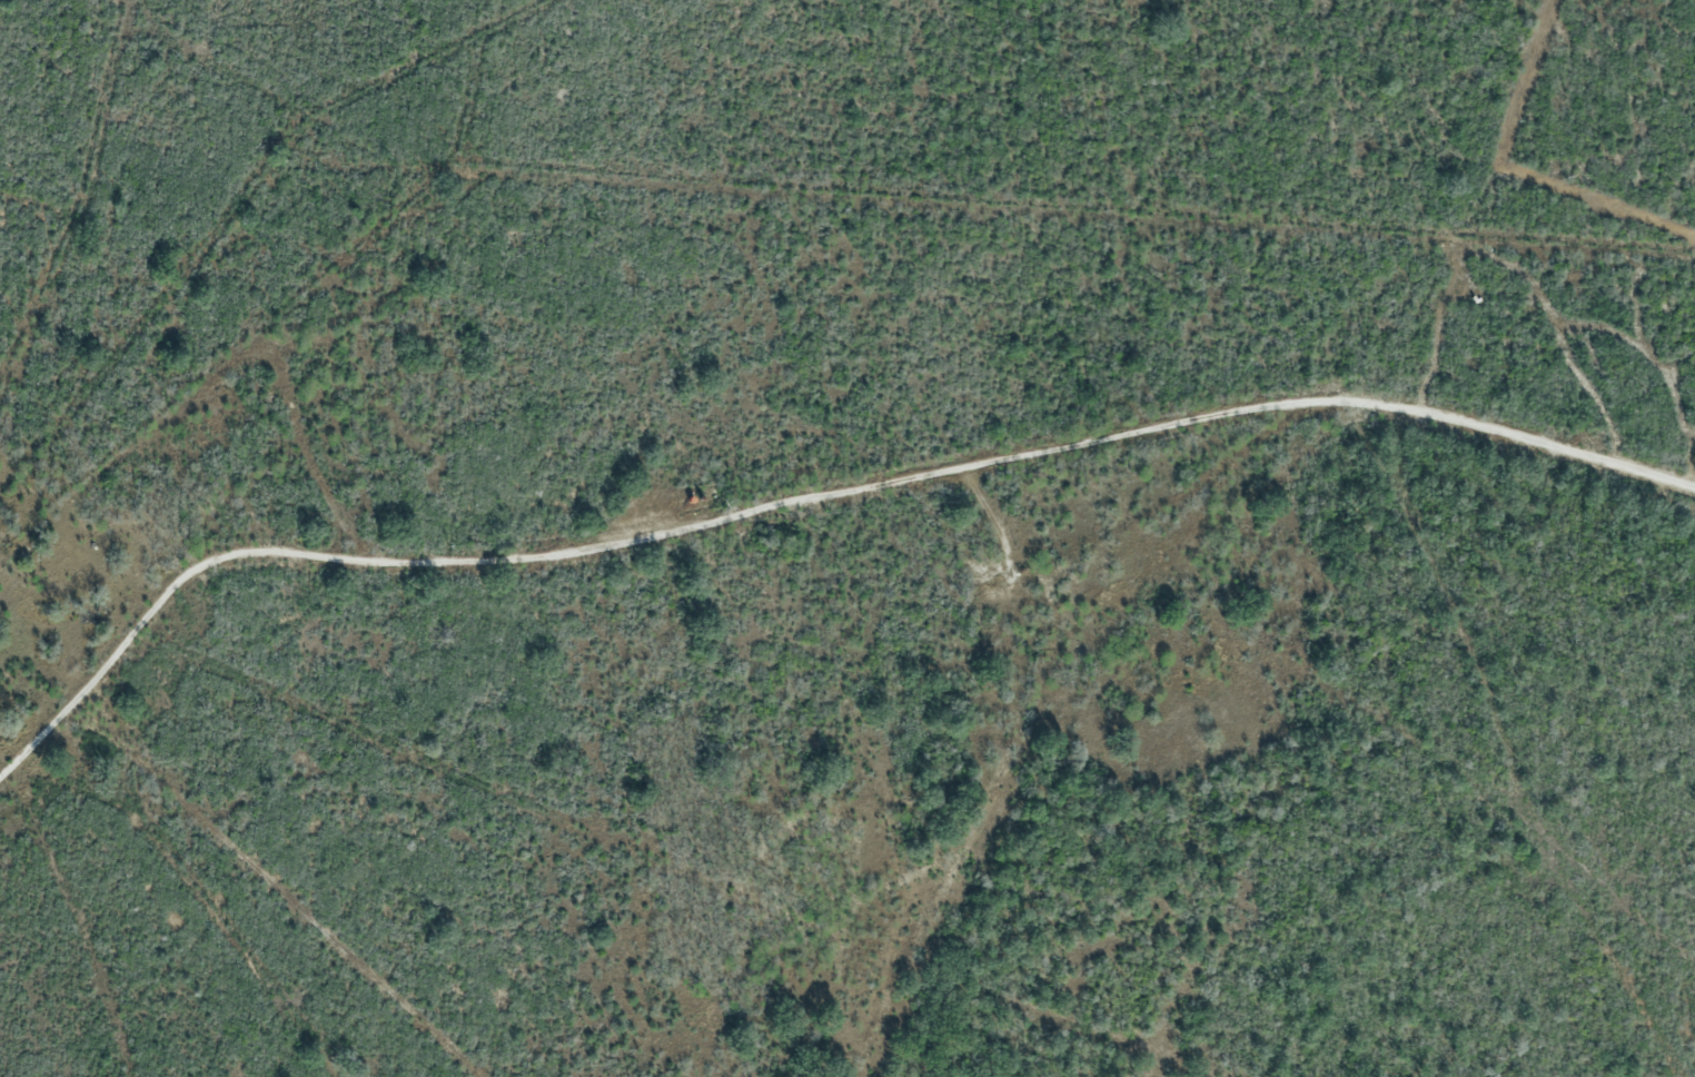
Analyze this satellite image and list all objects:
road: (809, 500)
road: (276, 886)

